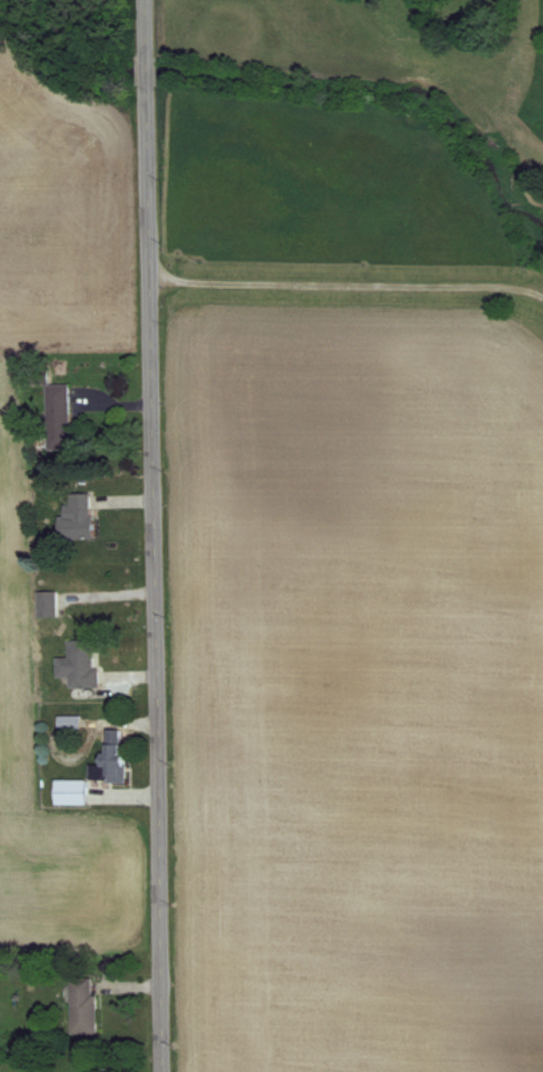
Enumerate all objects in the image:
road: (347, 285)
building: (55, 410)
building: (77, 517)
road: (154, 535)
building: (77, 664)
building: (109, 764)
building: (68, 792)
building: (82, 1005)

